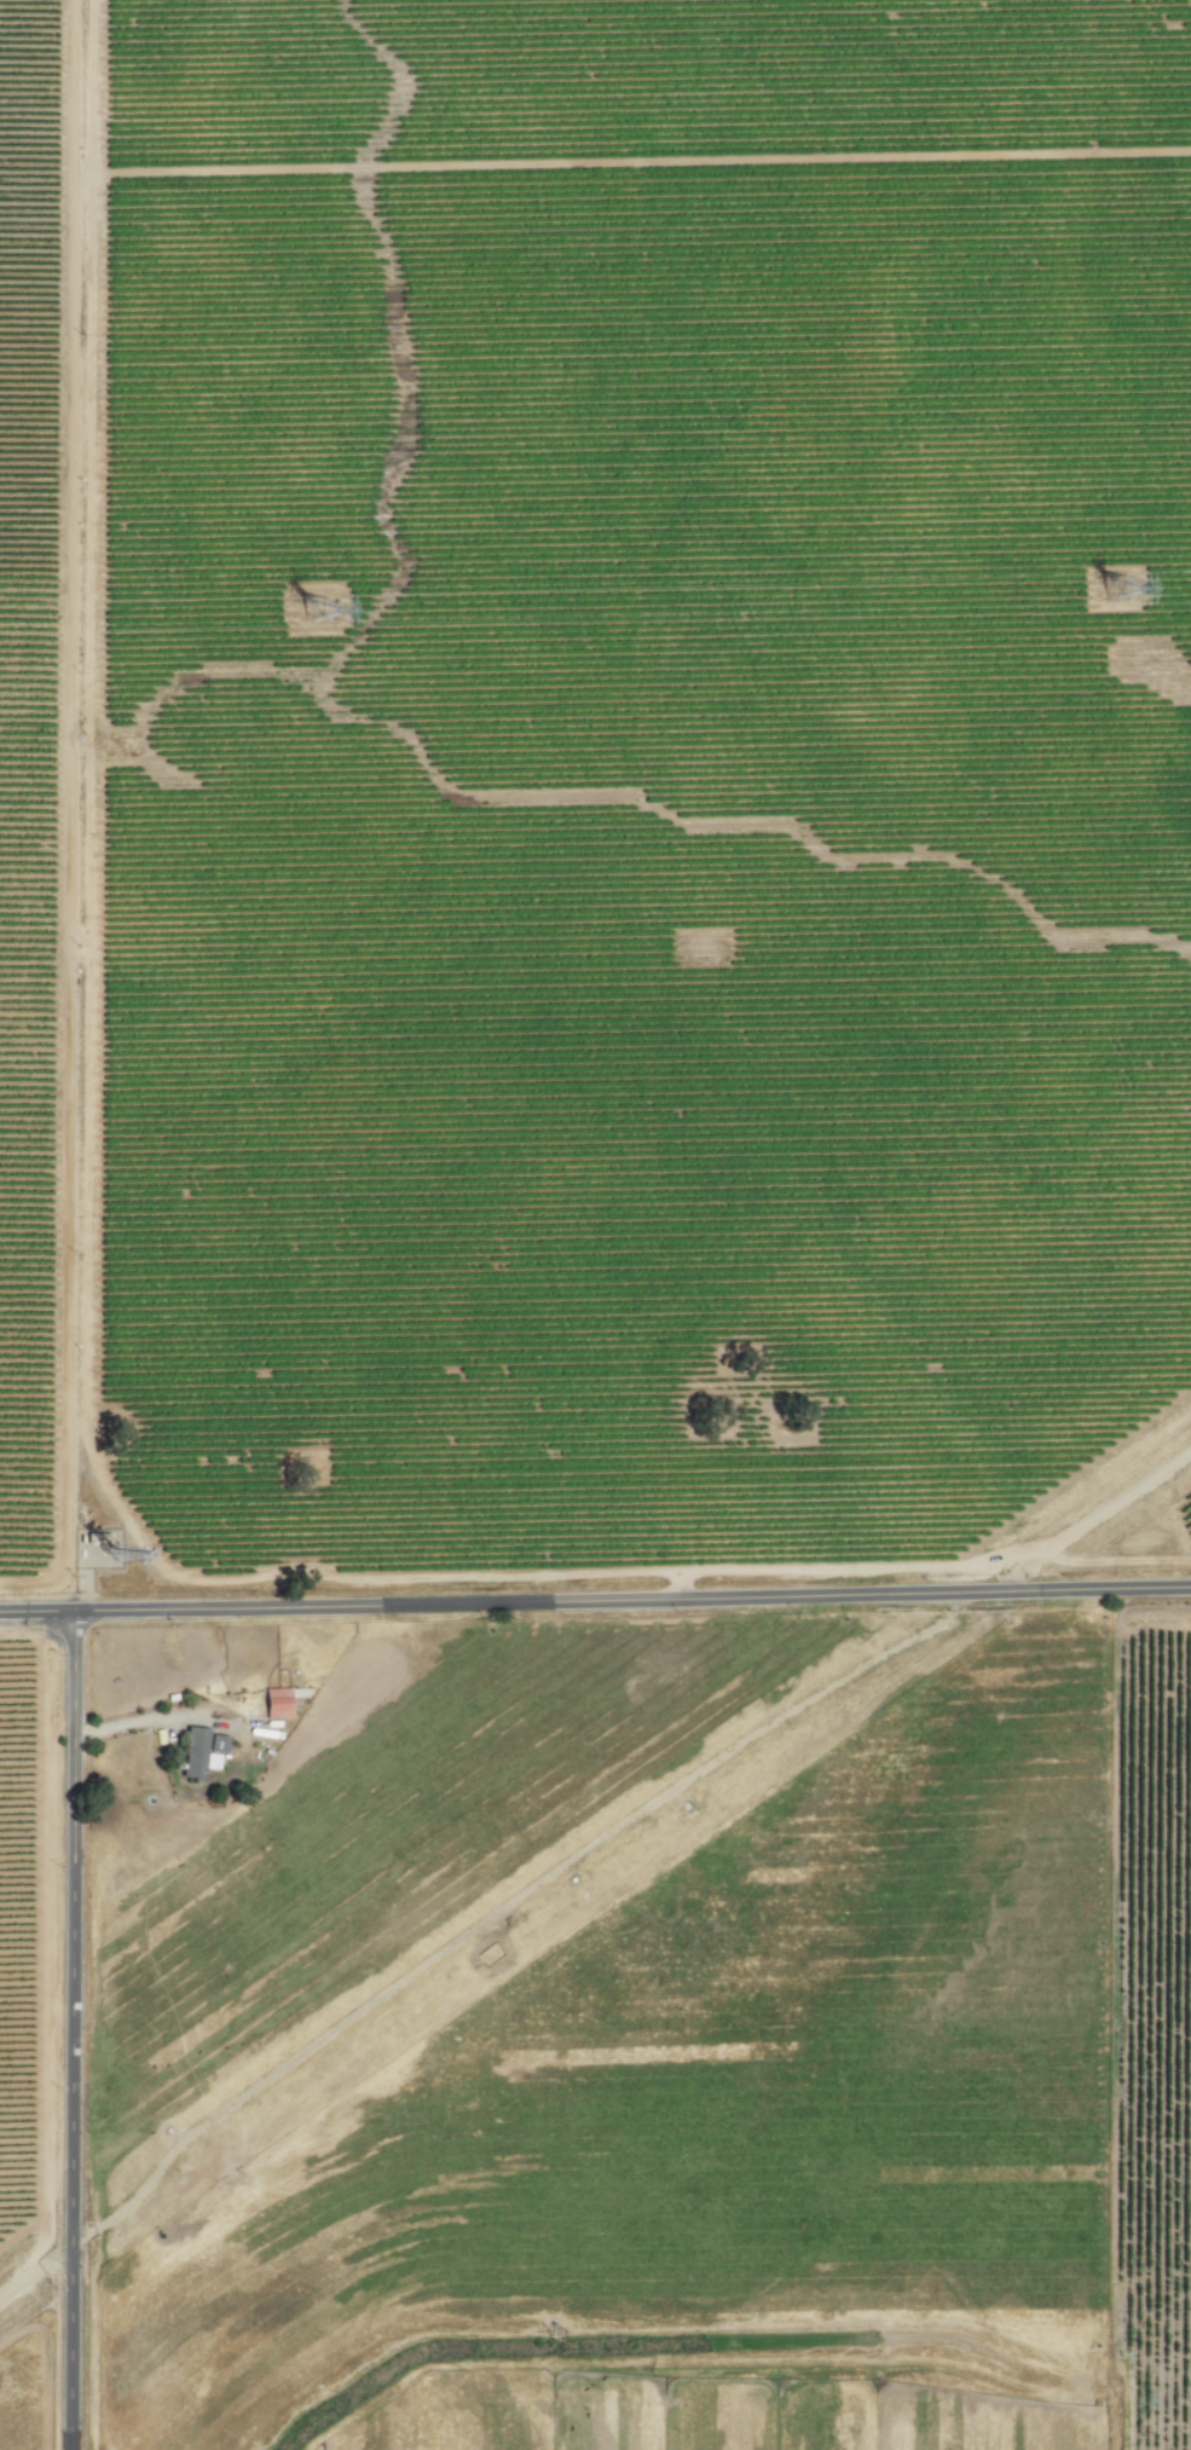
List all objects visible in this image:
power tower: (1126, 590)
power tower: (326, 611)
road: (1095, 1522)
road: (595, 1602)
building: (278, 1701)
road: (149, 1718)
building: (197, 1753)
road: (77, 2032)
road: (39, 2269)

